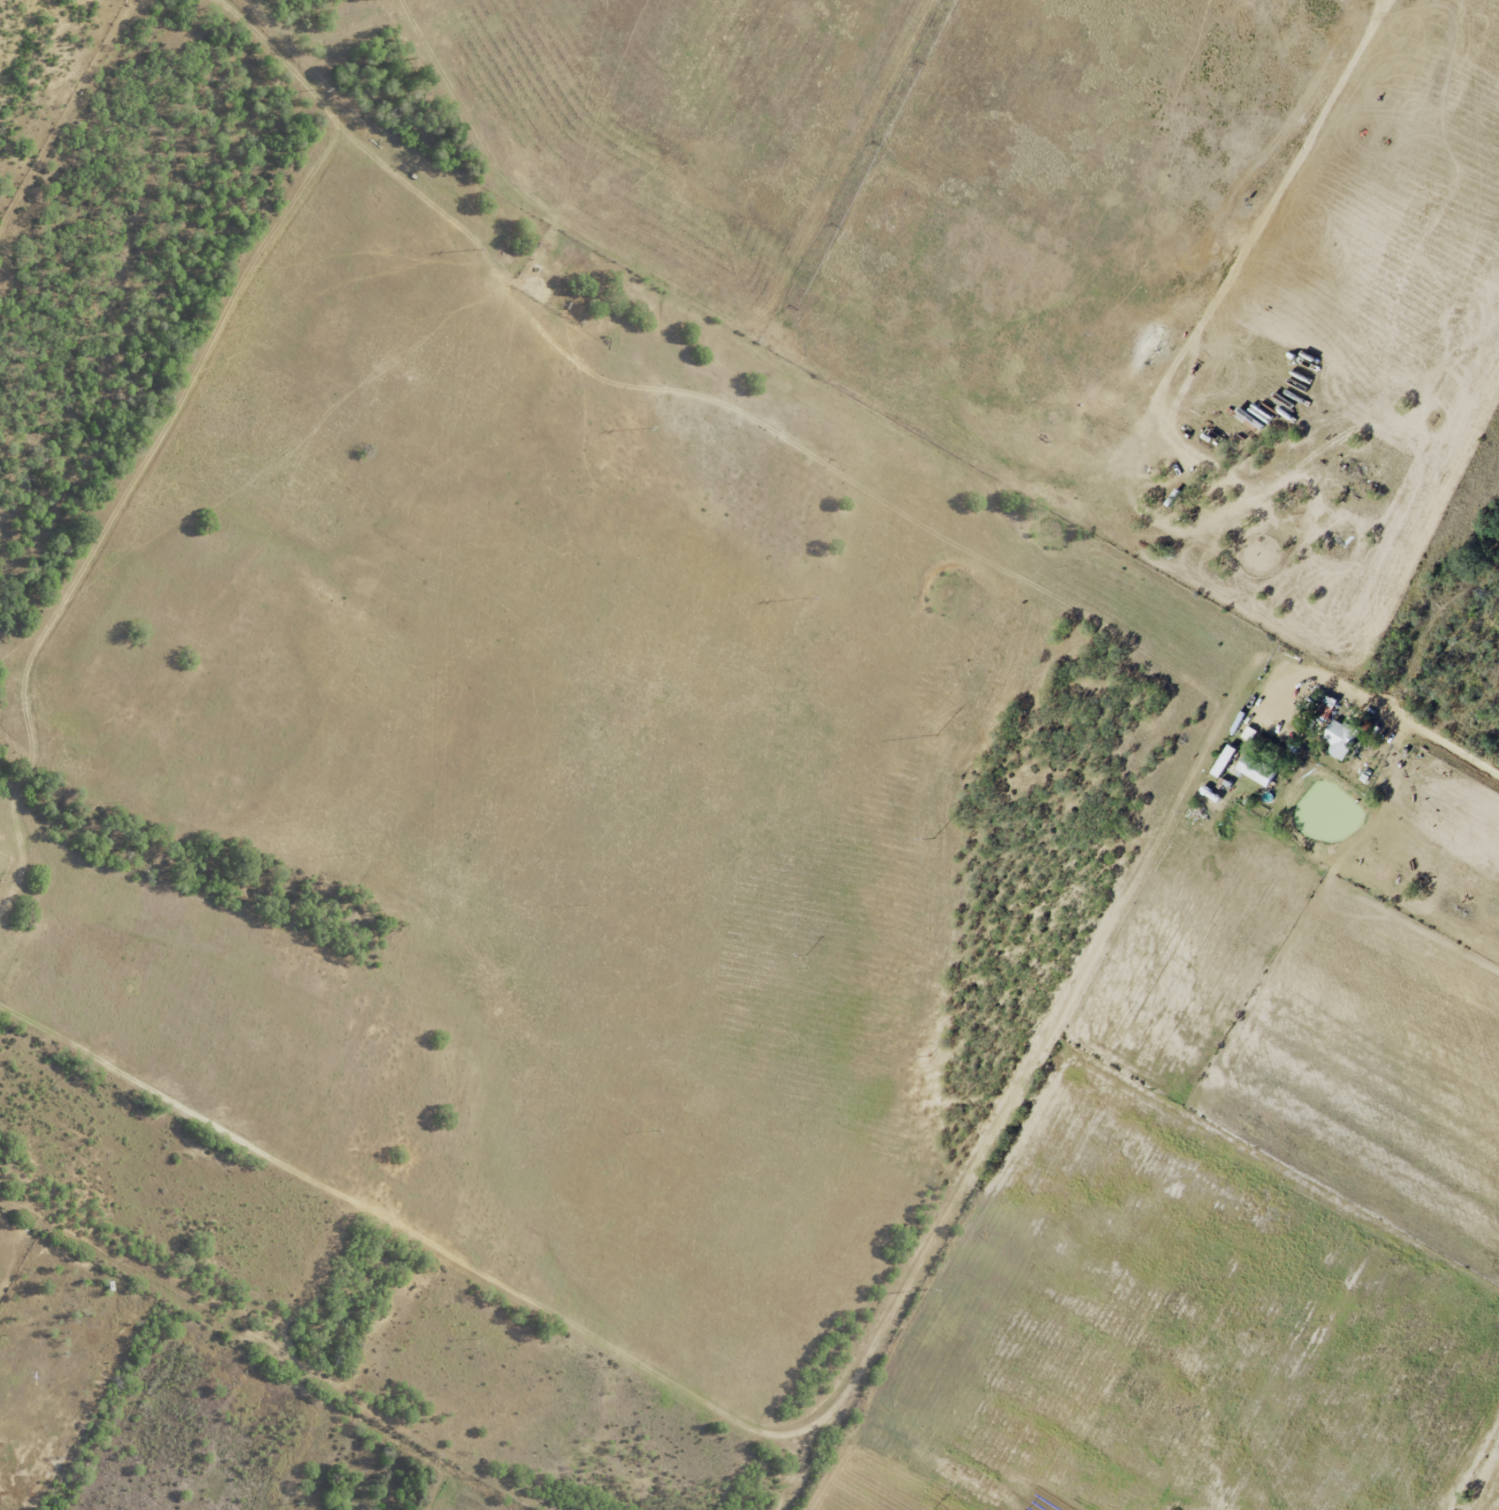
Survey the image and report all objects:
power tower: (321, 92)
power tower: (476, 250)
power tower: (646, 427)
power tower: (807, 597)
road: (1281, 685)
building: (1325, 711)
building: (1249, 734)
power tower: (938, 735)
building: (1340, 738)
building: (1223, 761)
building: (1255, 770)
power tower: (935, 839)
power tower: (932, 1056)
power tower: (927, 1290)
road: (875, 1323)

